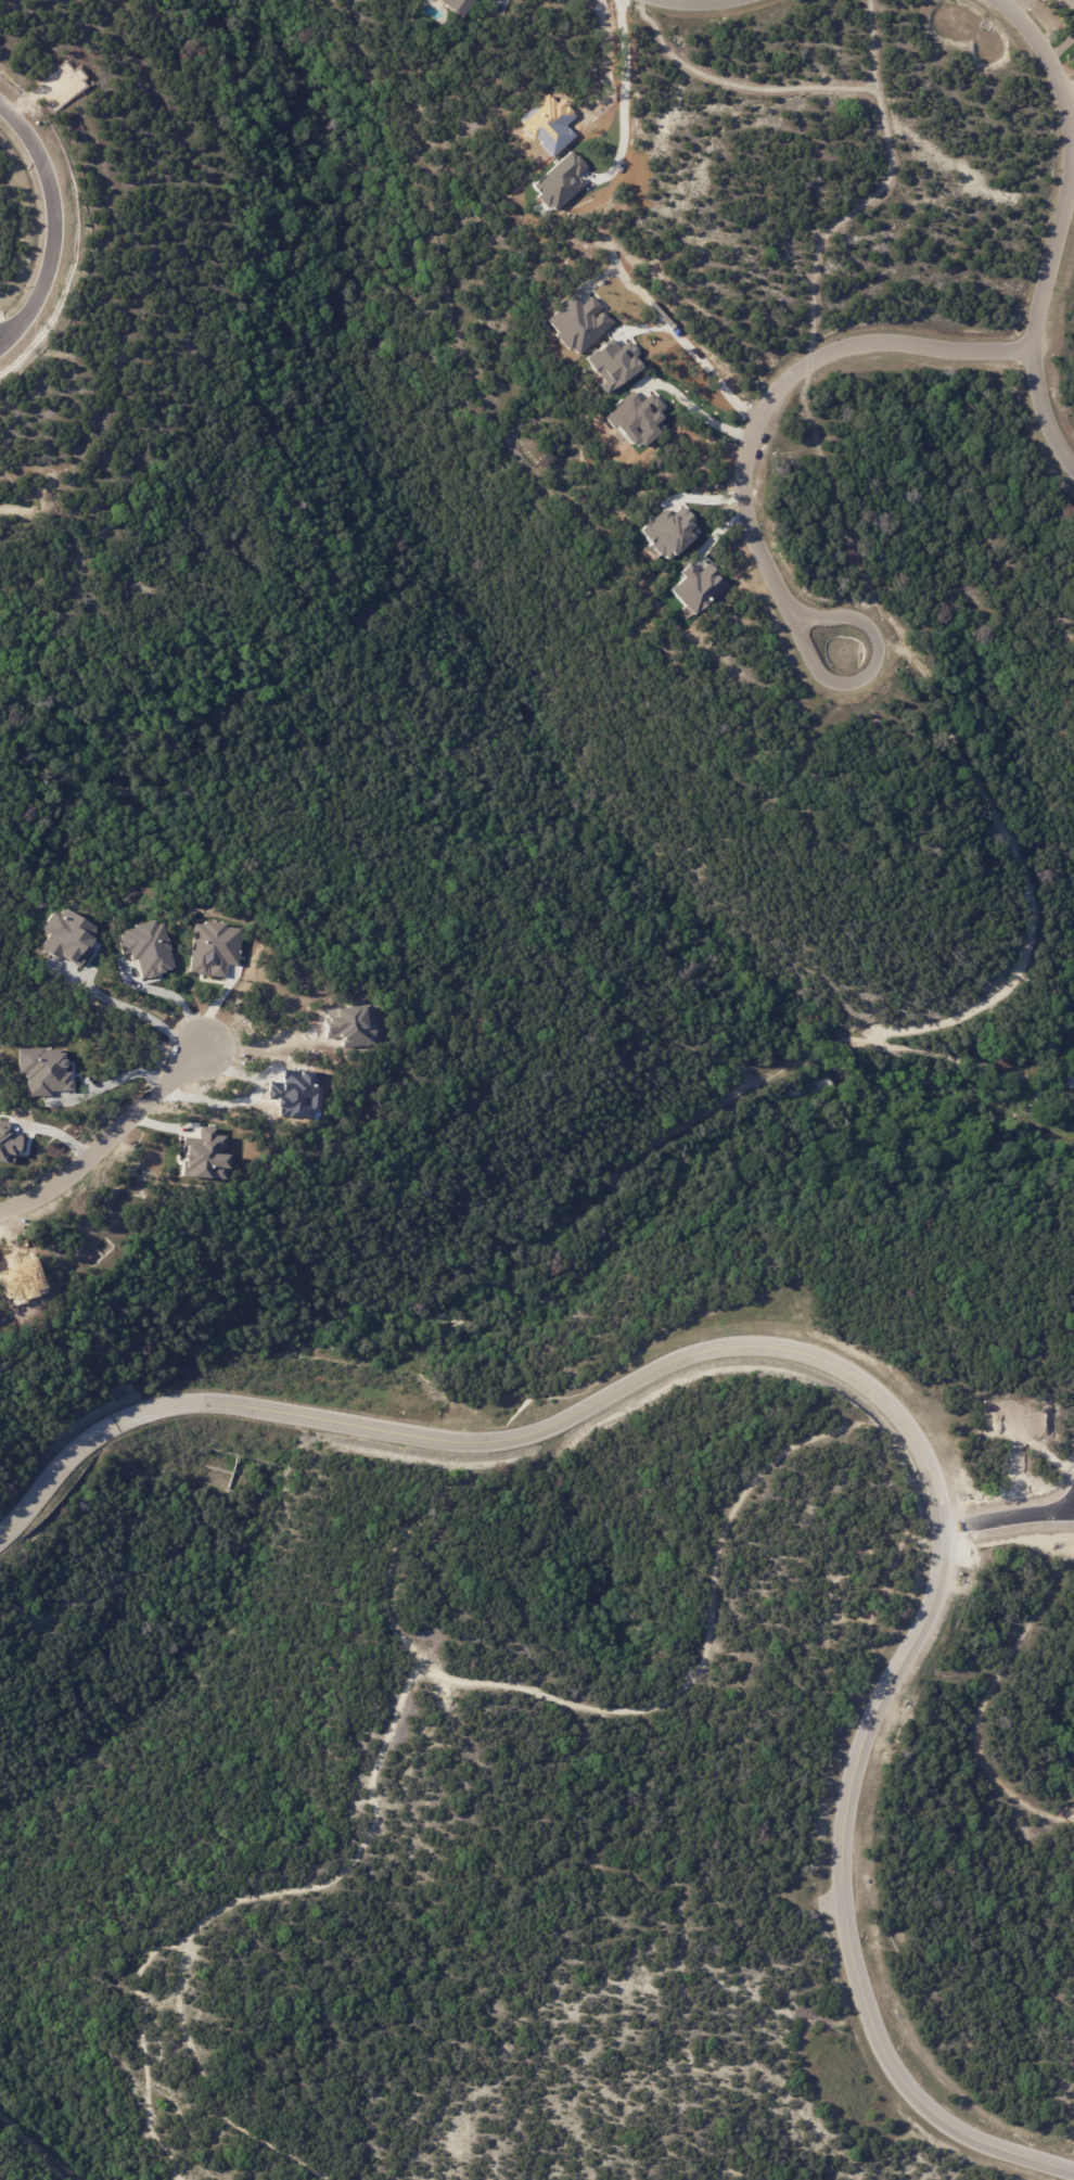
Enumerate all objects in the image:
road: (703, 3)
building: (457, 5)
road: (611, 64)
road: (737, 85)
road: (1065, 89)
road: (874, 192)
road: (57, 209)
road: (1061, 227)
road: (5, 328)
road: (5, 335)
road: (698, 357)
road: (695, 410)
road: (738, 494)
road: (145, 1016)
road: (266, 1048)
building: (1059, 1049)
building: (1071, 1084)
road: (108, 1142)
road: (866, 1385)
road: (1008, 1519)

